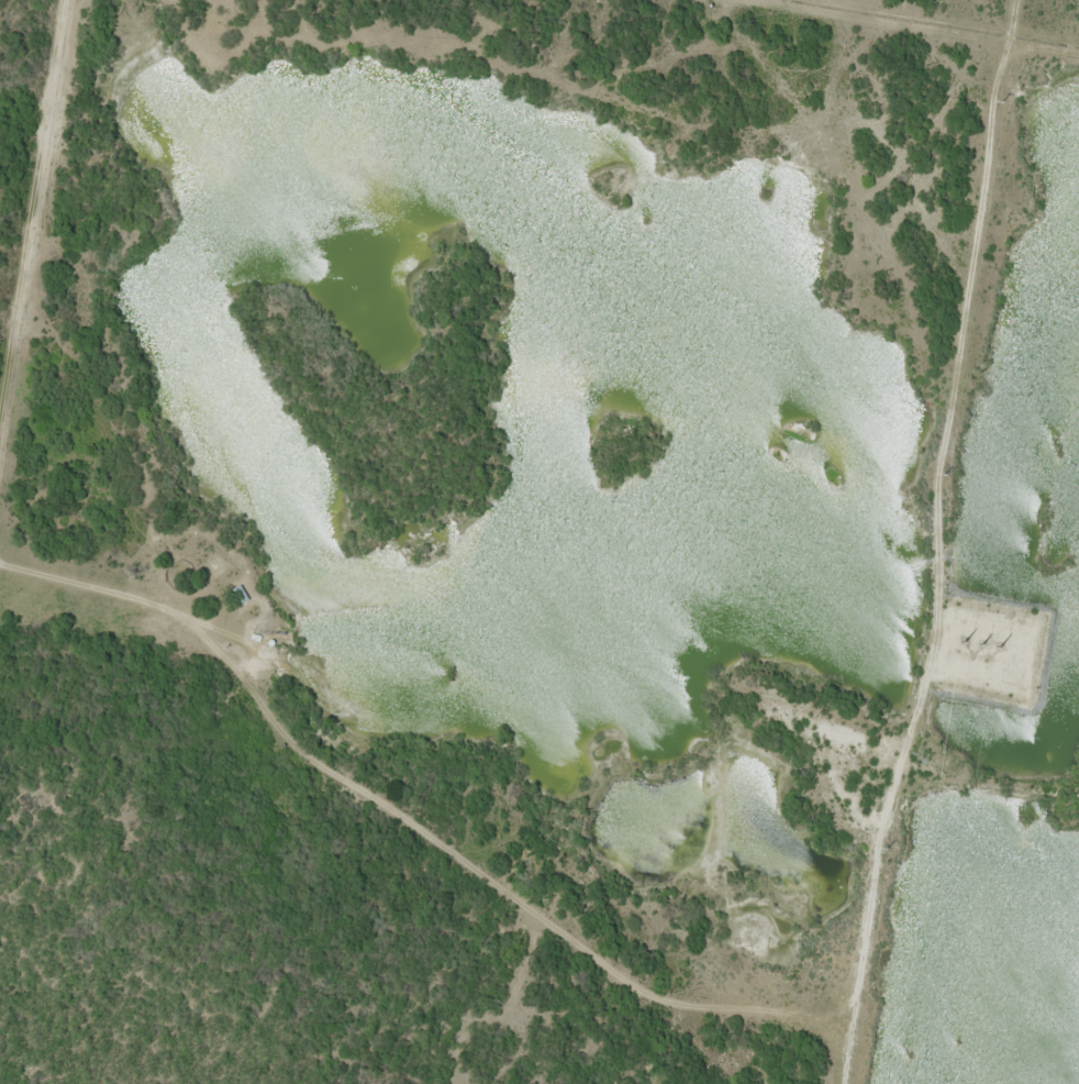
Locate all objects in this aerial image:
building: (238, 596)
power tower: (982, 645)

